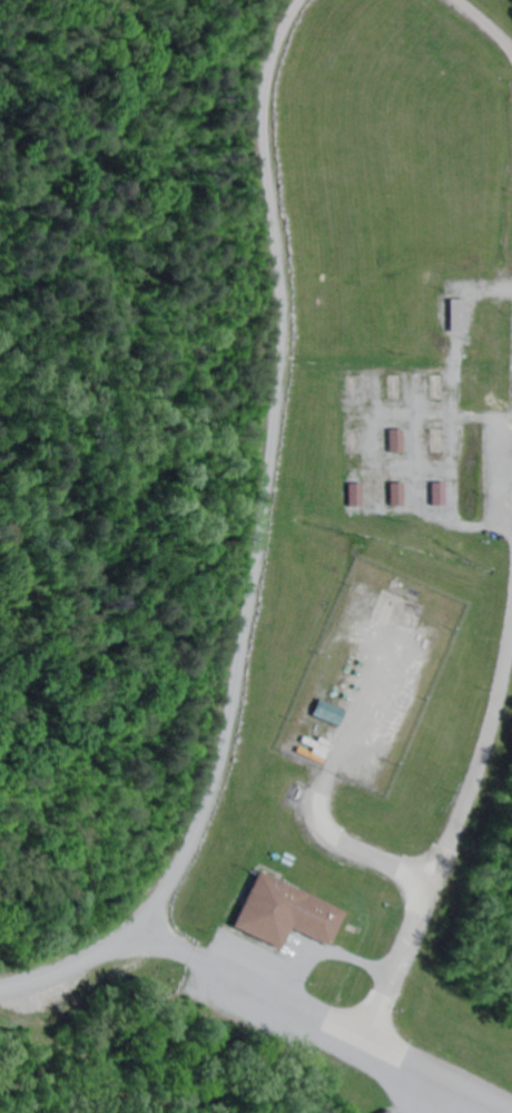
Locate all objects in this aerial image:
road: (485, 22)
building: (452, 315)
road: (453, 417)
road: (482, 419)
building: (391, 440)
building: (391, 494)
building: (432, 494)
building: (348, 495)
road: (254, 545)
building: (323, 713)
road: (323, 799)
road: (453, 838)
building: (282, 914)
road: (328, 954)
road: (322, 1018)
building: (381, 1112)

